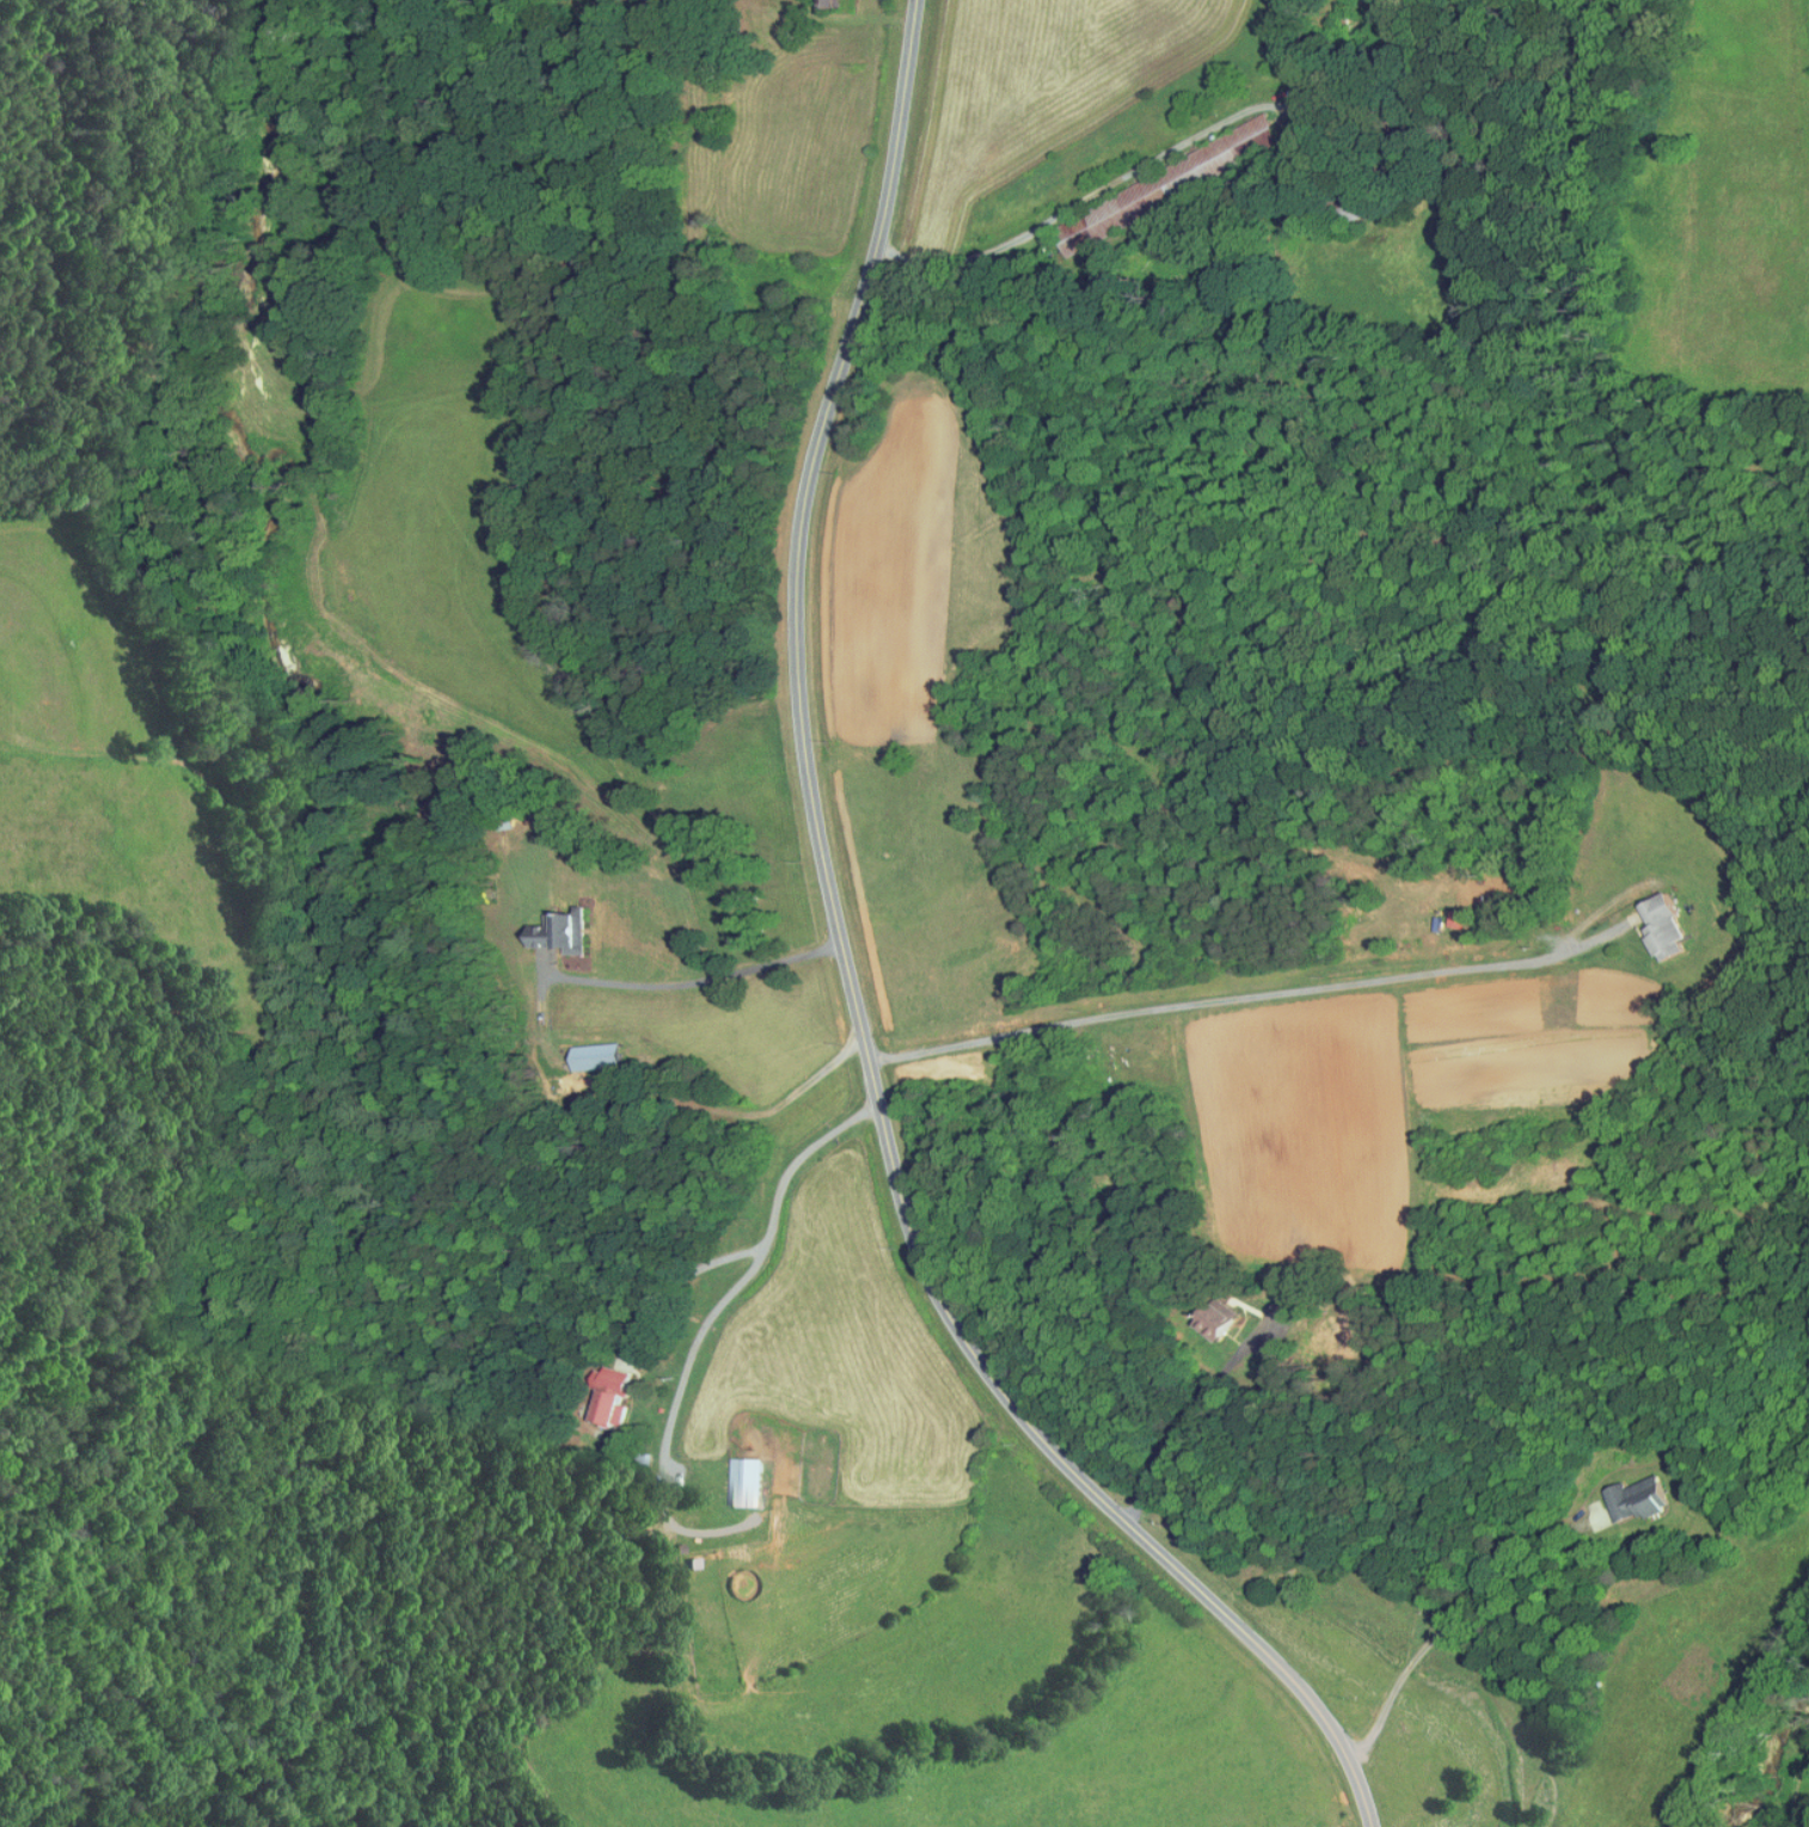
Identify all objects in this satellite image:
building: (827, 2)
building: (1159, 189)
building: (1457, 919)
building: (1663, 927)
building: (560, 934)
road: (695, 980)
road: (852, 992)
road: (1226, 998)
building: (596, 1056)
road: (764, 1239)
building: (1214, 1320)
building: (609, 1396)
road: (670, 1411)
road: (1189, 1422)
building: (744, 1480)
building: (1636, 1497)
road: (1452, 1617)

